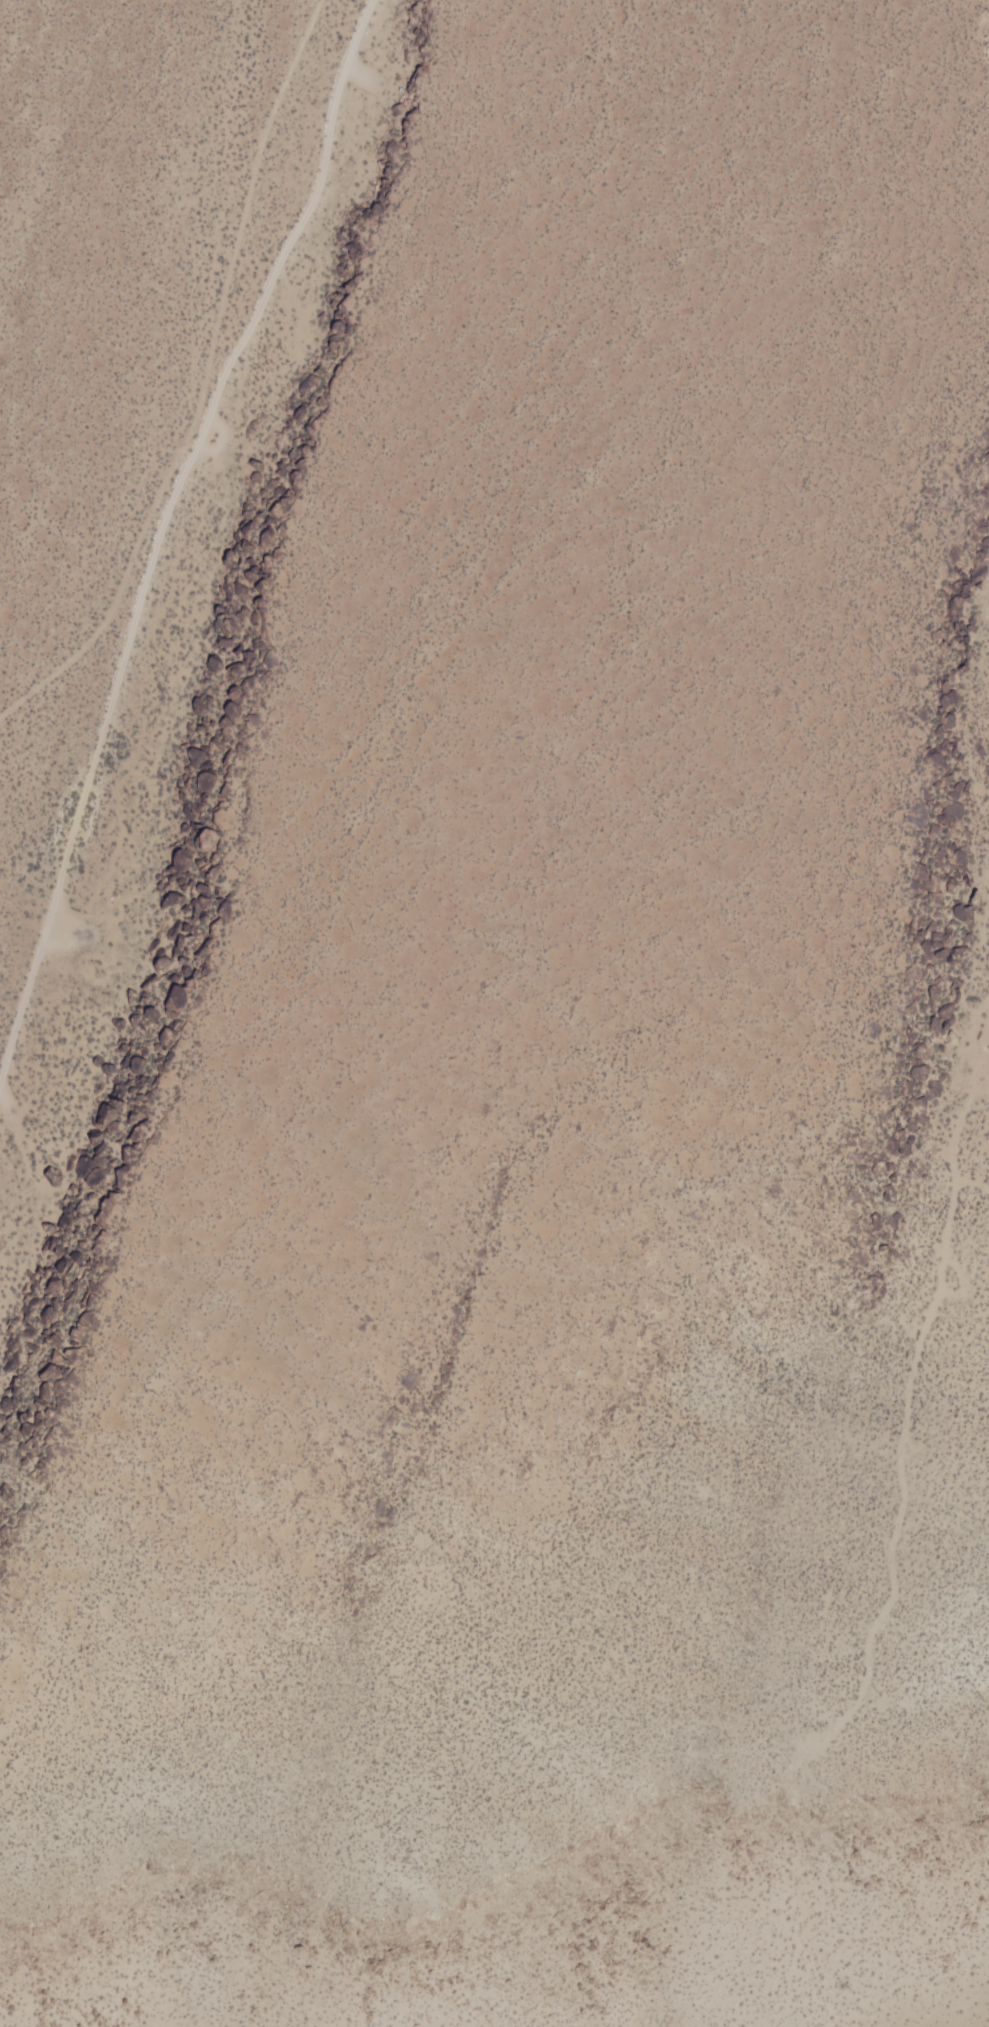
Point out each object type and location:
road: (200, 381)
road: (159, 523)
road: (979, 1084)
road: (910, 1353)

